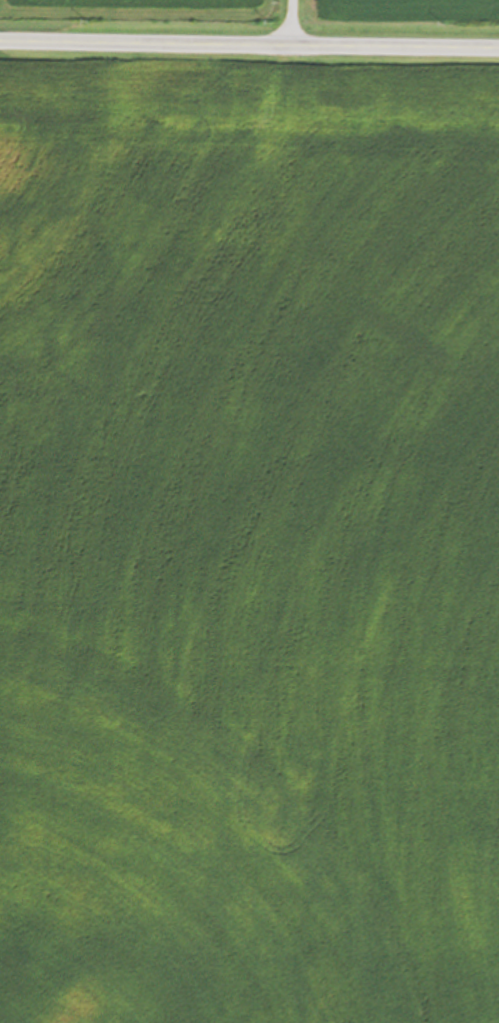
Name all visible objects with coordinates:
road: (295, 24)
road: (249, 47)

